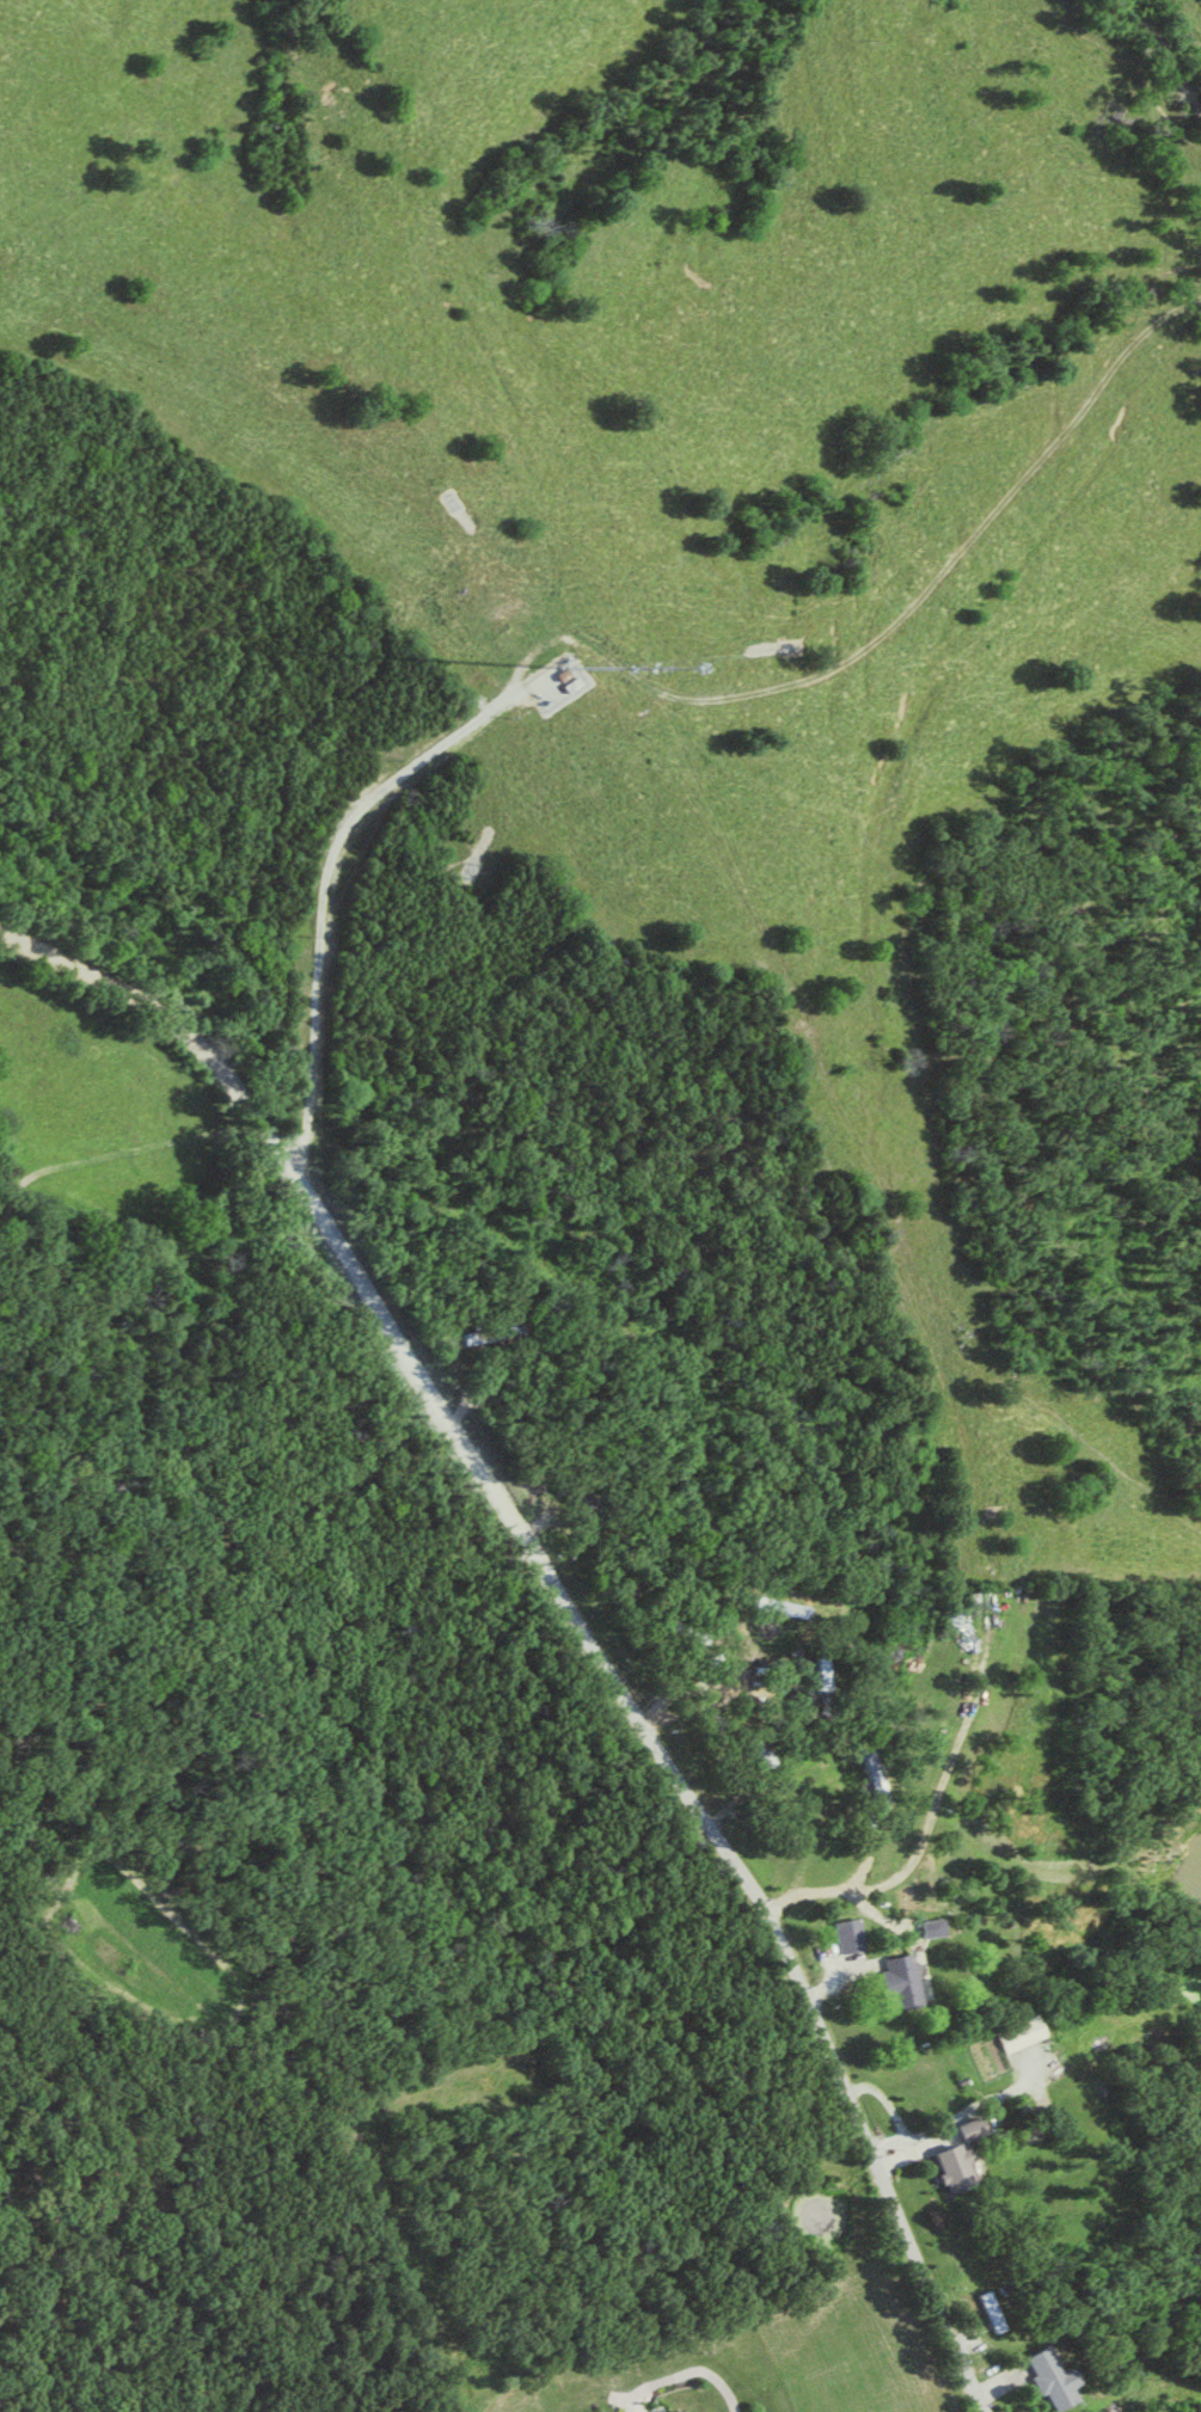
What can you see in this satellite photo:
building: (491, 1336)
road: (421, 1380)
building: (968, 1597)
building: (821, 1668)
building: (872, 1778)
building: (847, 1935)
building: (897, 1982)
building: (1016, 2034)
building: (967, 2129)
road: (881, 2159)
building: (950, 2165)
building: (989, 2312)
road: (691, 2369)
building: (1047, 2380)

